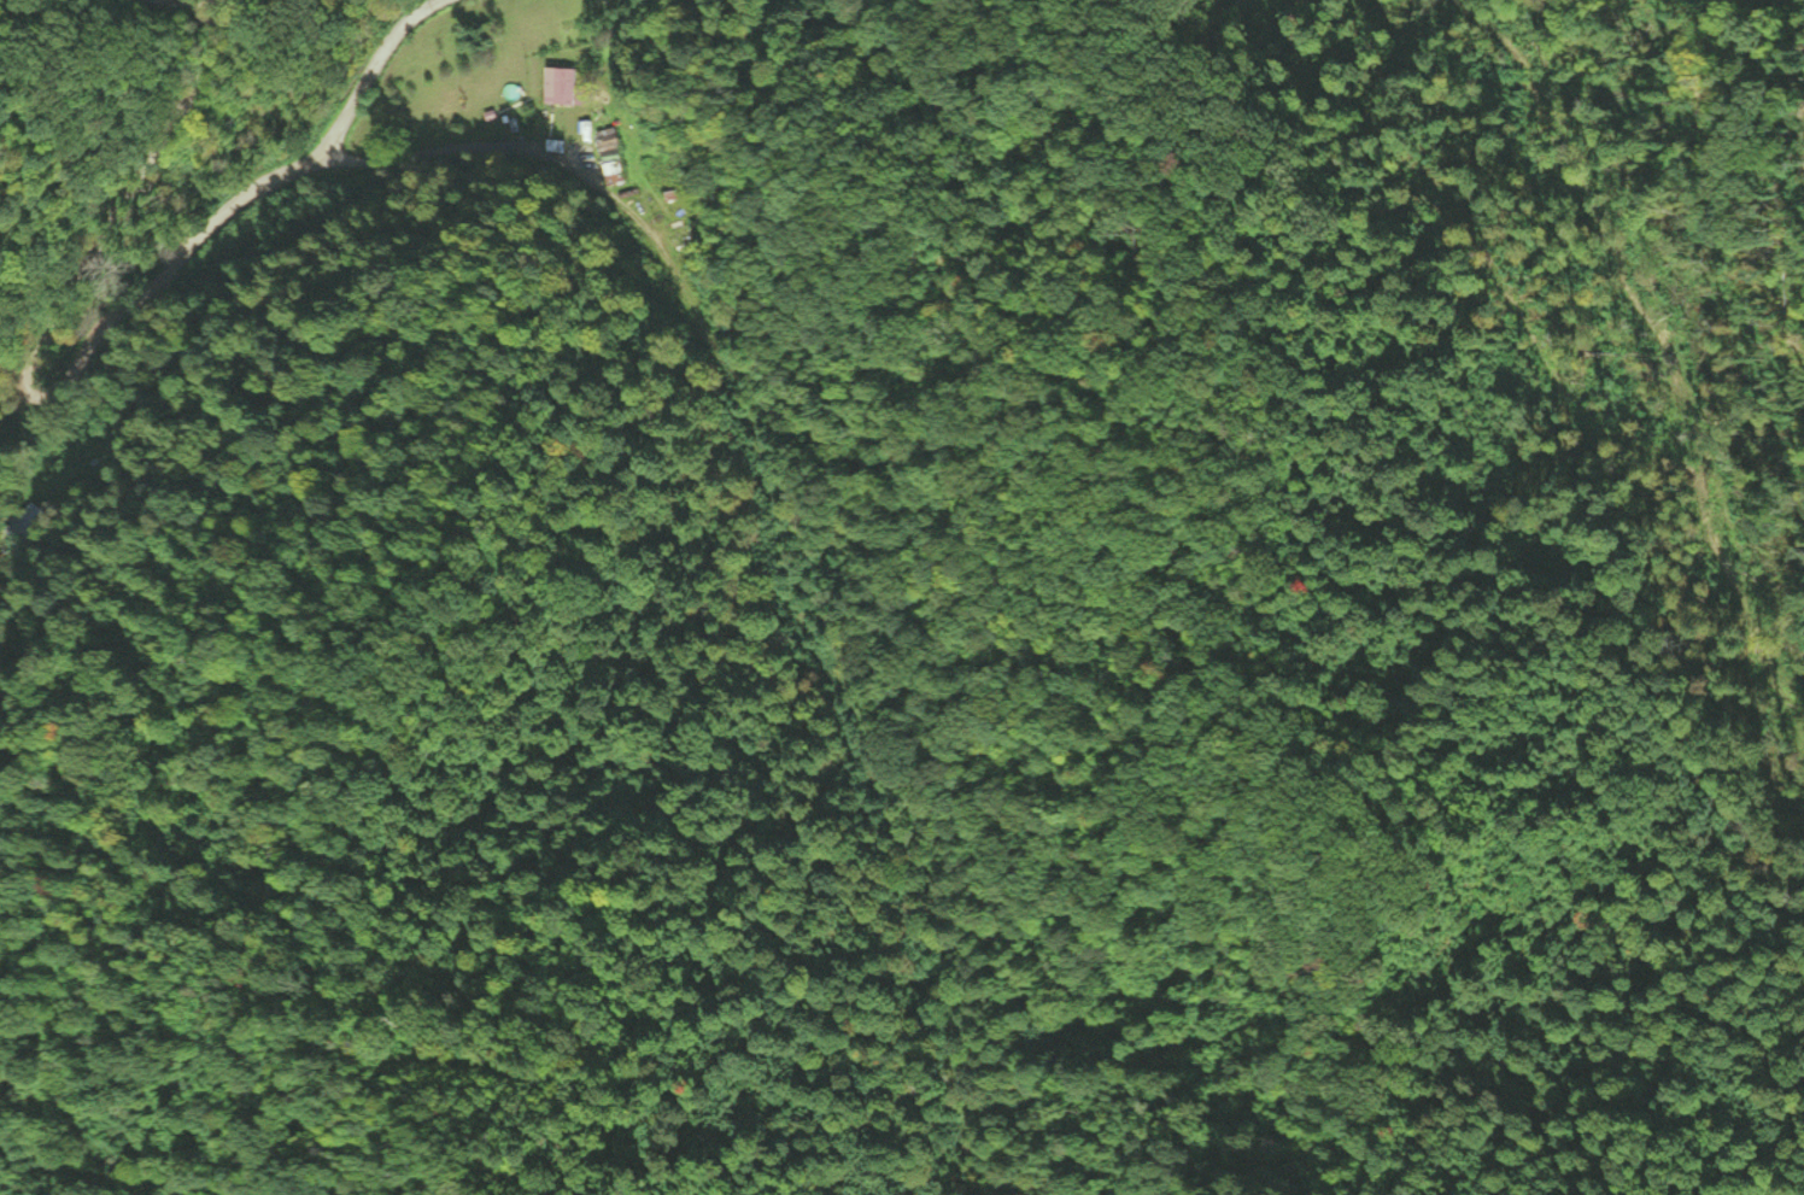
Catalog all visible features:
building: (567, 88)
road: (119, 205)
building: (680, 213)
road: (229, 217)

